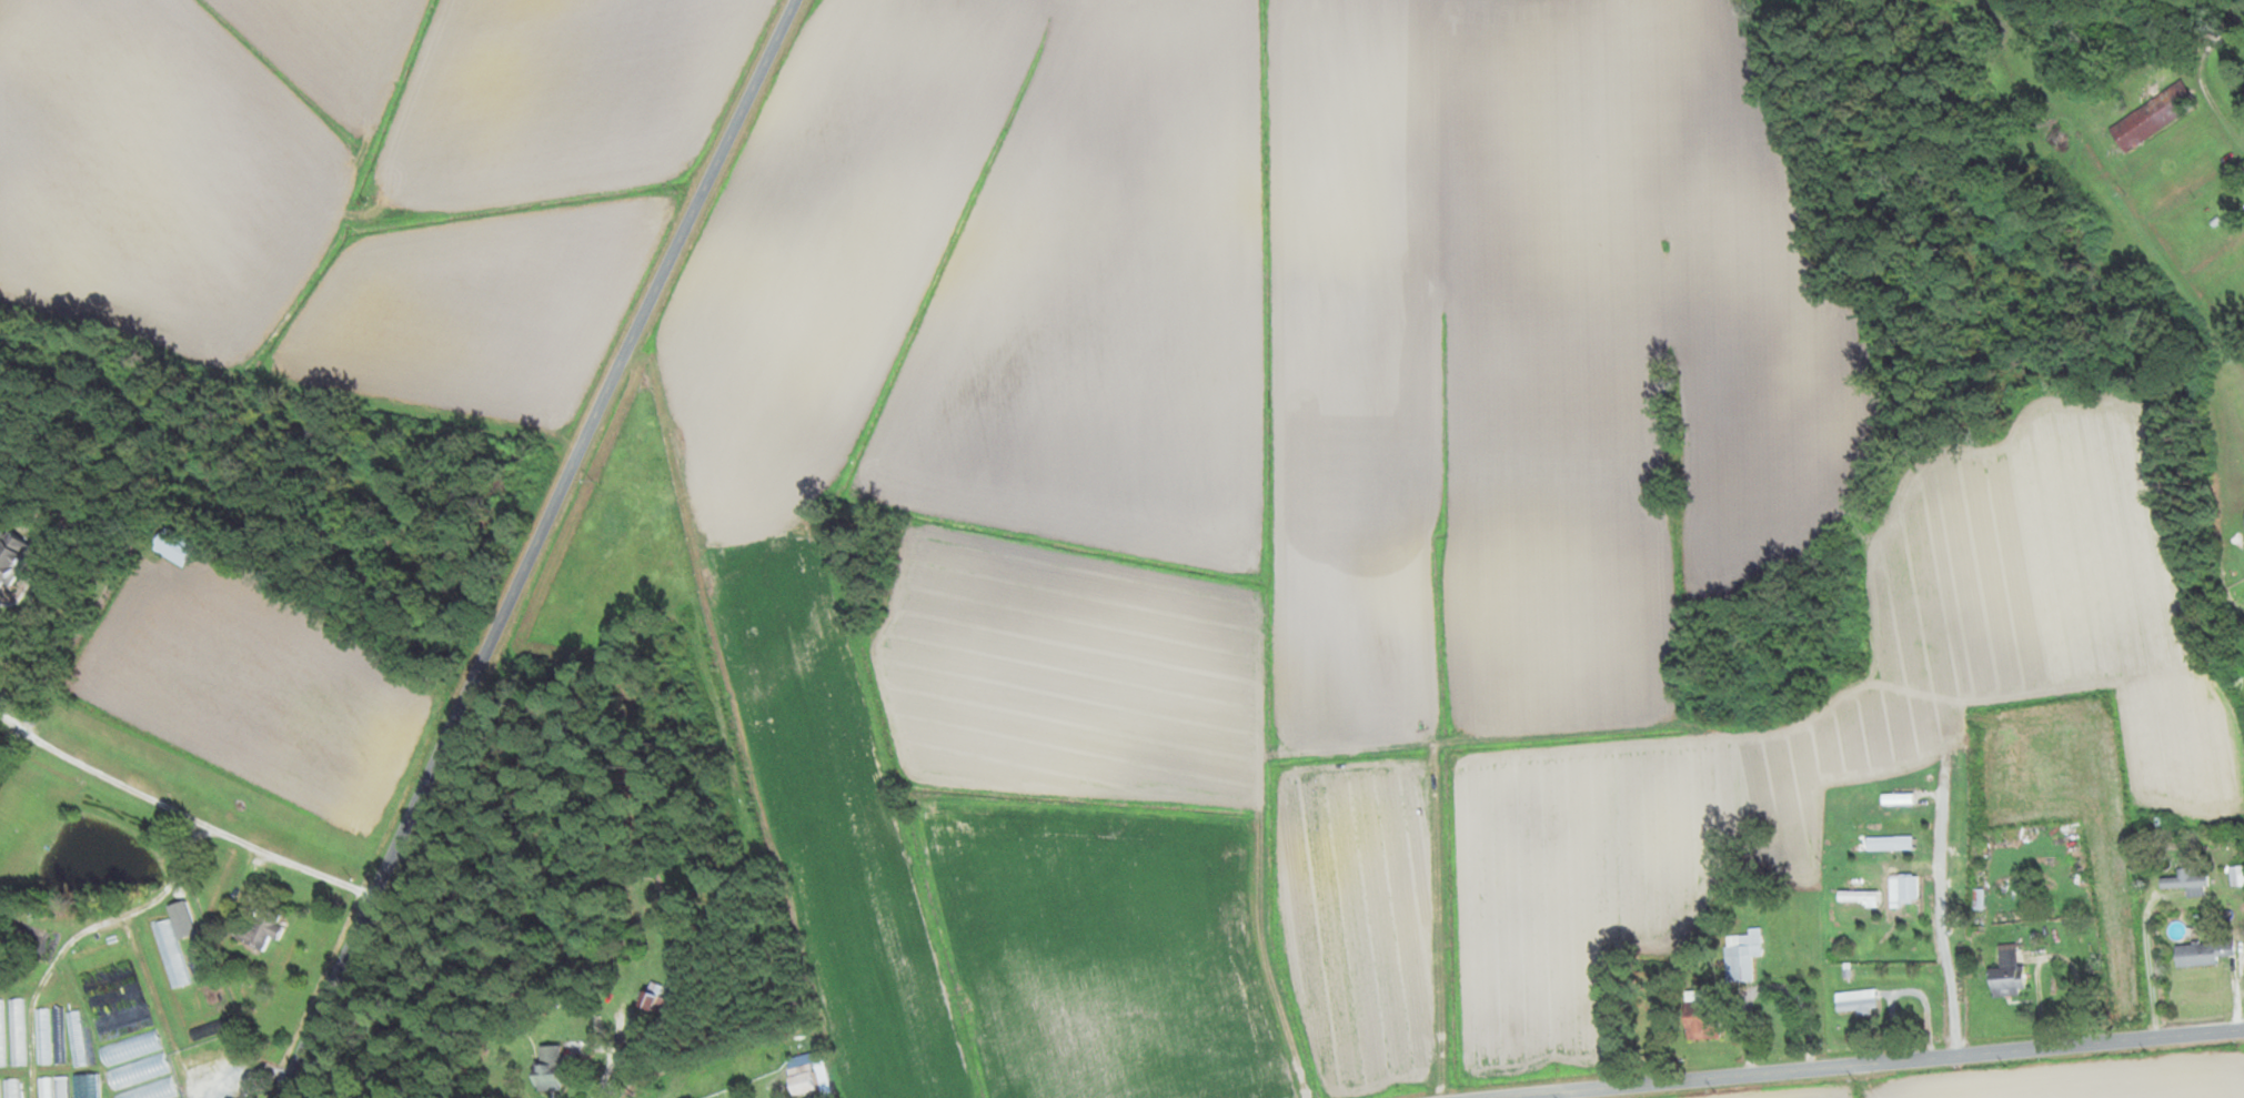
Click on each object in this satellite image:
building: (2150, 115)
building: (170, 546)
road: (535, 546)
building: (11, 556)
road: (729, 728)
building: (1901, 834)
building: (2235, 876)
building: (2184, 883)
building: (1905, 886)
building: (1856, 890)
road: (2223, 899)
building: (1975, 900)
building: (260, 928)
building: (172, 943)
road: (1942, 951)
building: (2201, 951)
road: (682, 953)
building: (1738, 956)
road: (2155, 967)
building: (2005, 973)
road: (2046, 990)
building: (209, 998)
building: (650, 1001)
building: (1853, 1001)
road: (158, 1010)
building: (1698, 1016)
road: (2243, 1019)
building: (16, 1031)
building: (1, 1032)
building: (74, 1037)
building: (128, 1047)
road: (230, 1055)
road: (1868, 1064)
building: (544, 1068)
building: (135, 1071)
building: (798, 1079)
building: (84, 1086)
building: (59, 1087)
building: (10, 1088)
building: (150, 1090)

